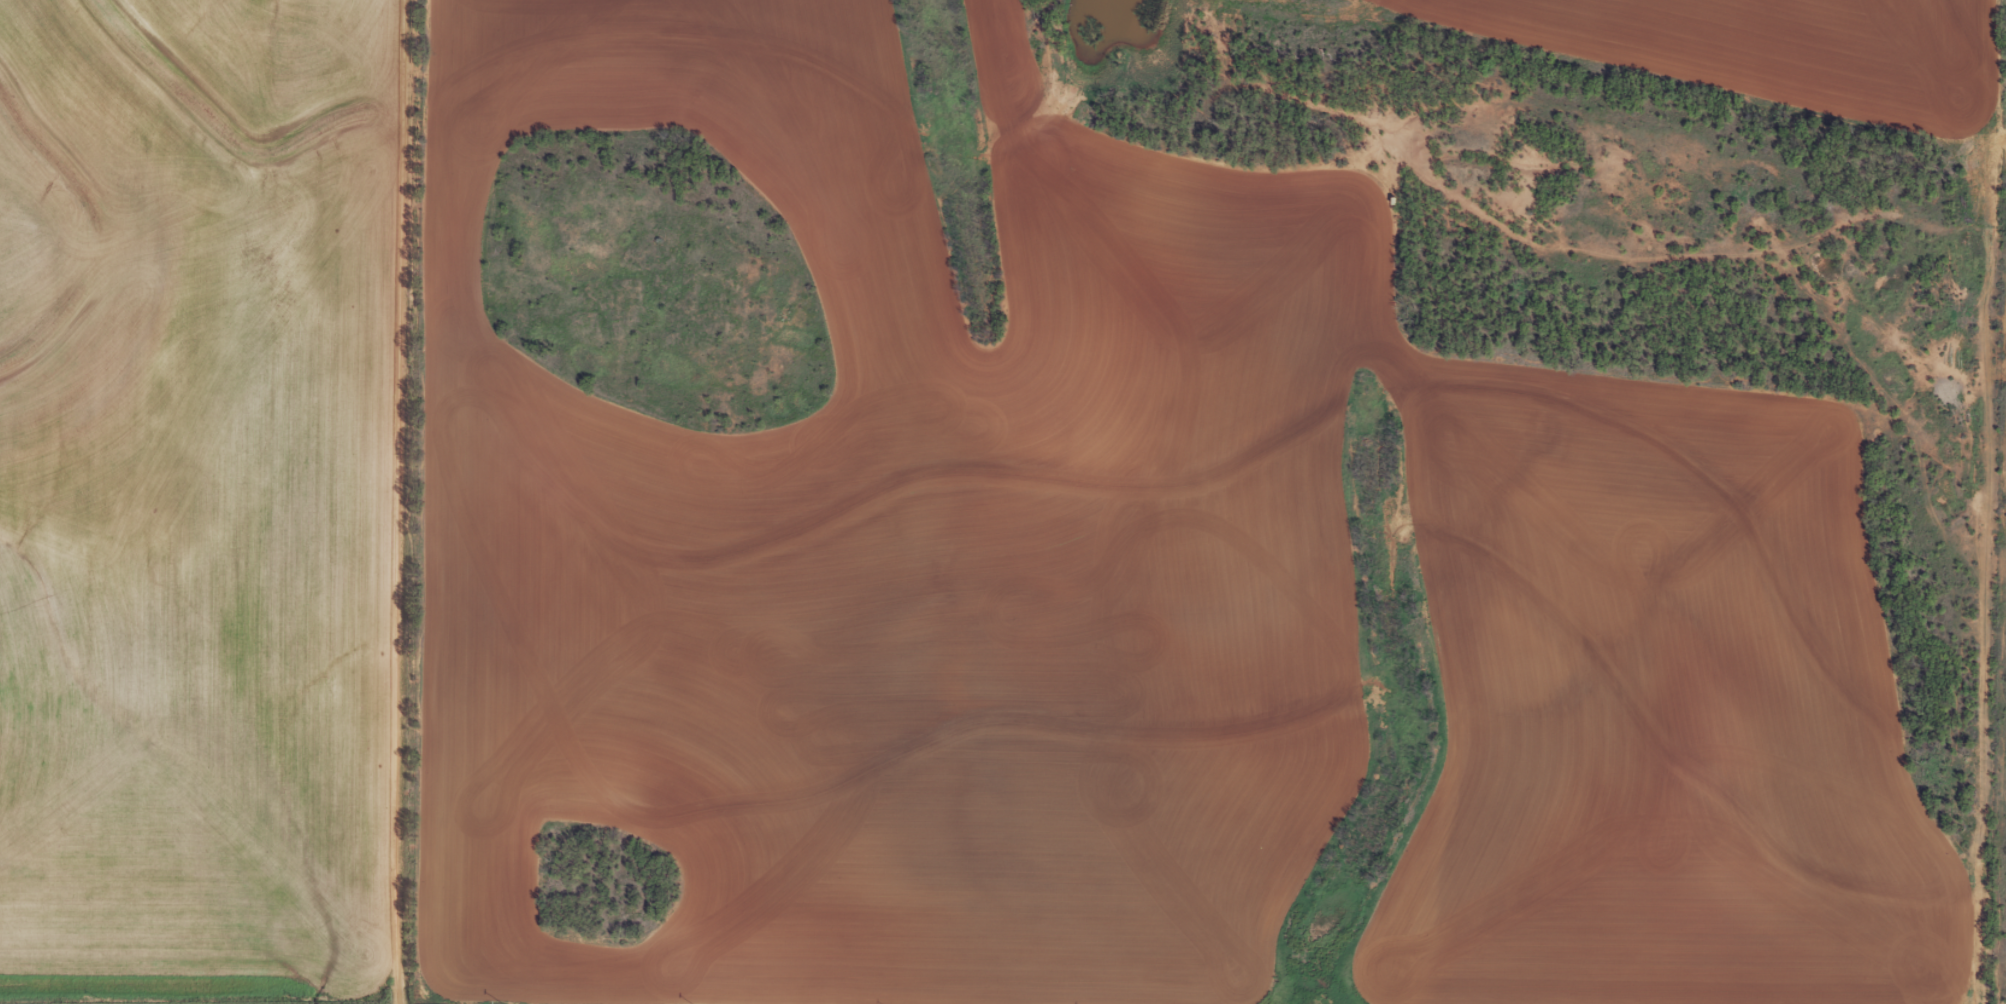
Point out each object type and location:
road: (508, 502)

